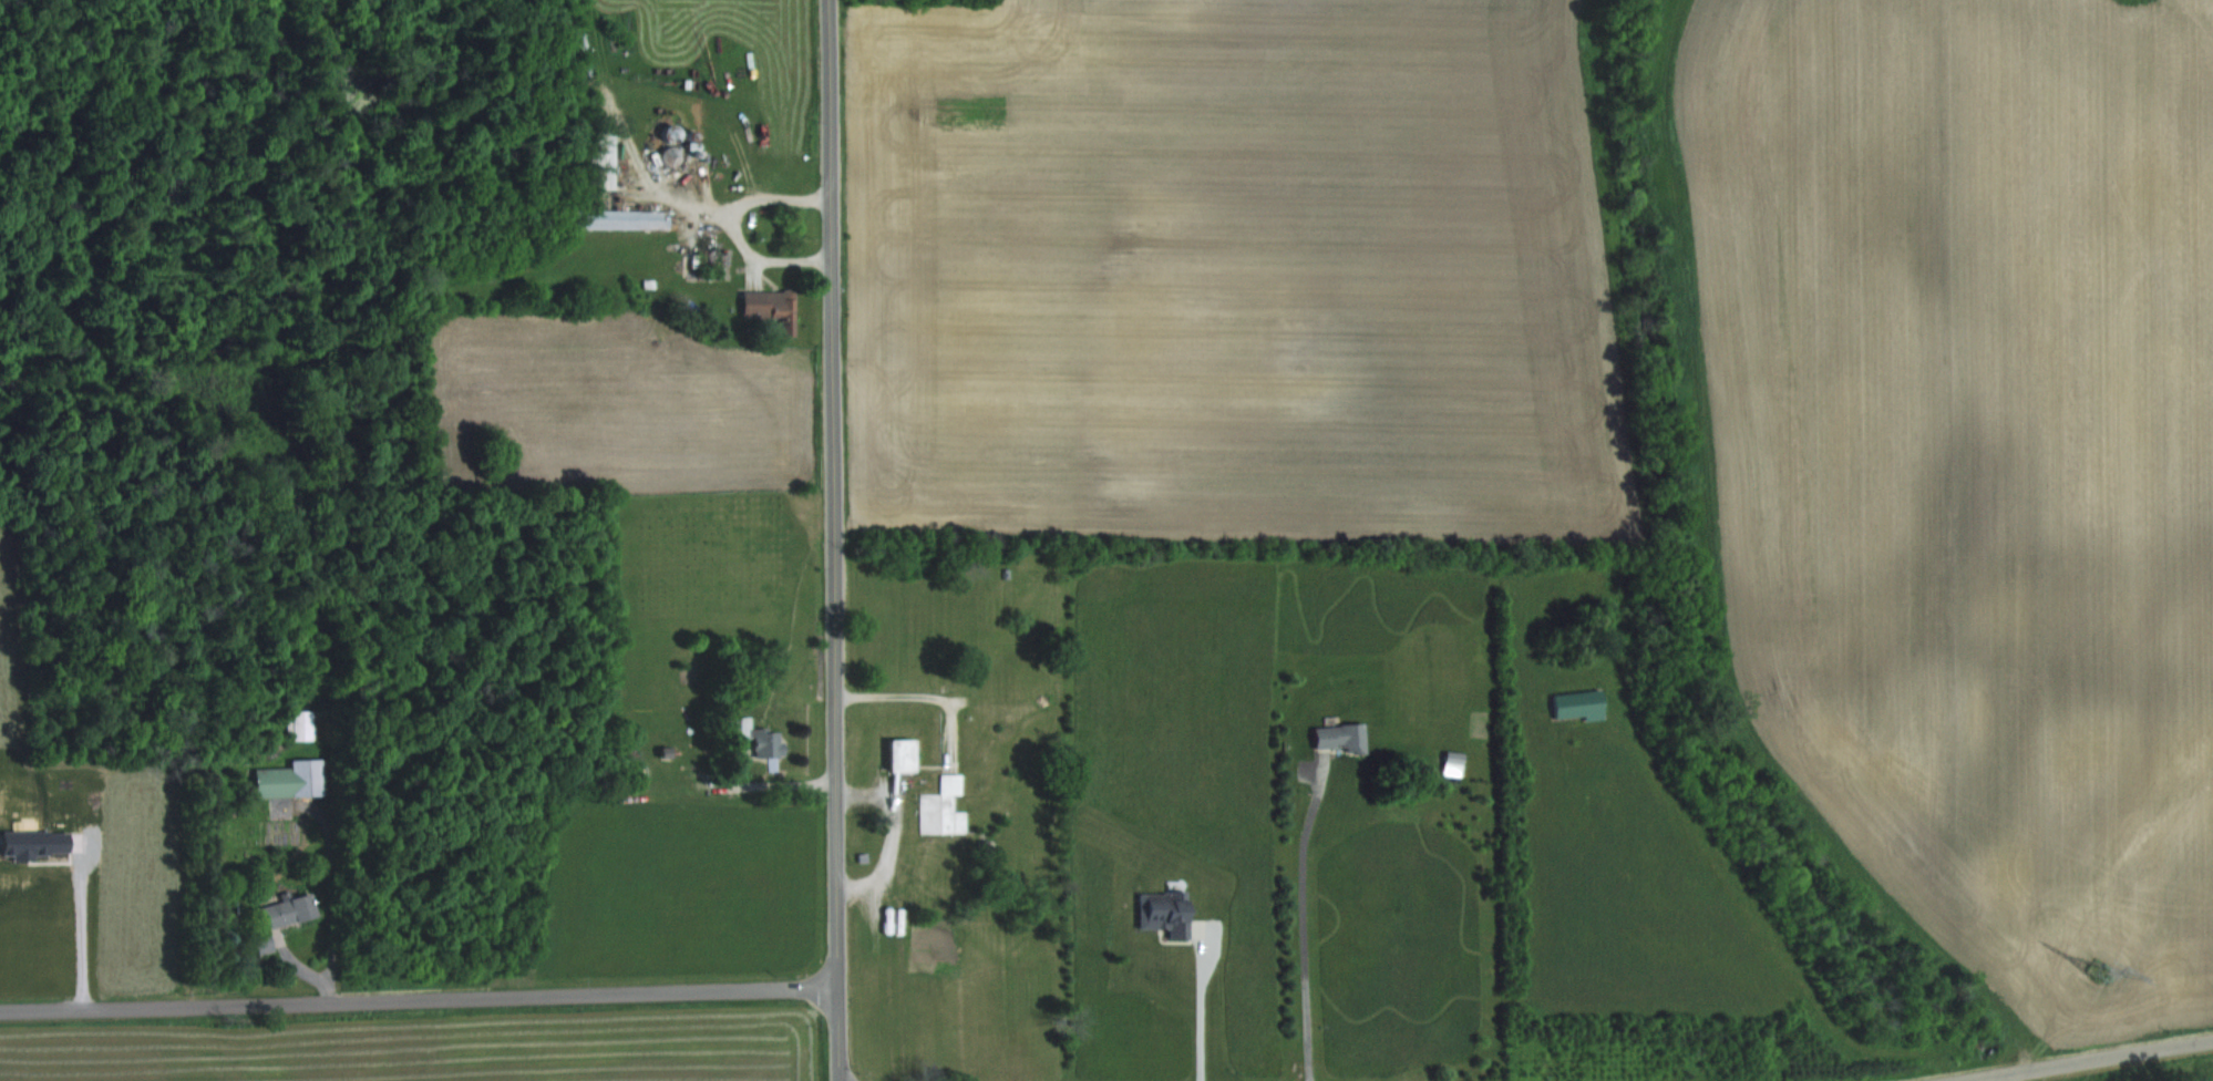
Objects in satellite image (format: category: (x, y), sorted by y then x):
building: (621, 218)
building: (768, 308)
road: (833, 540)
building: (1575, 704)
building: (305, 724)
building: (763, 747)
building: (897, 755)
building: (291, 780)
building: (941, 809)
building: (1161, 913)
building: (276, 919)
road: (1300, 923)
power tower: (2097, 970)
road: (419, 1000)
road: (1198, 1002)
road: (2089, 1063)

